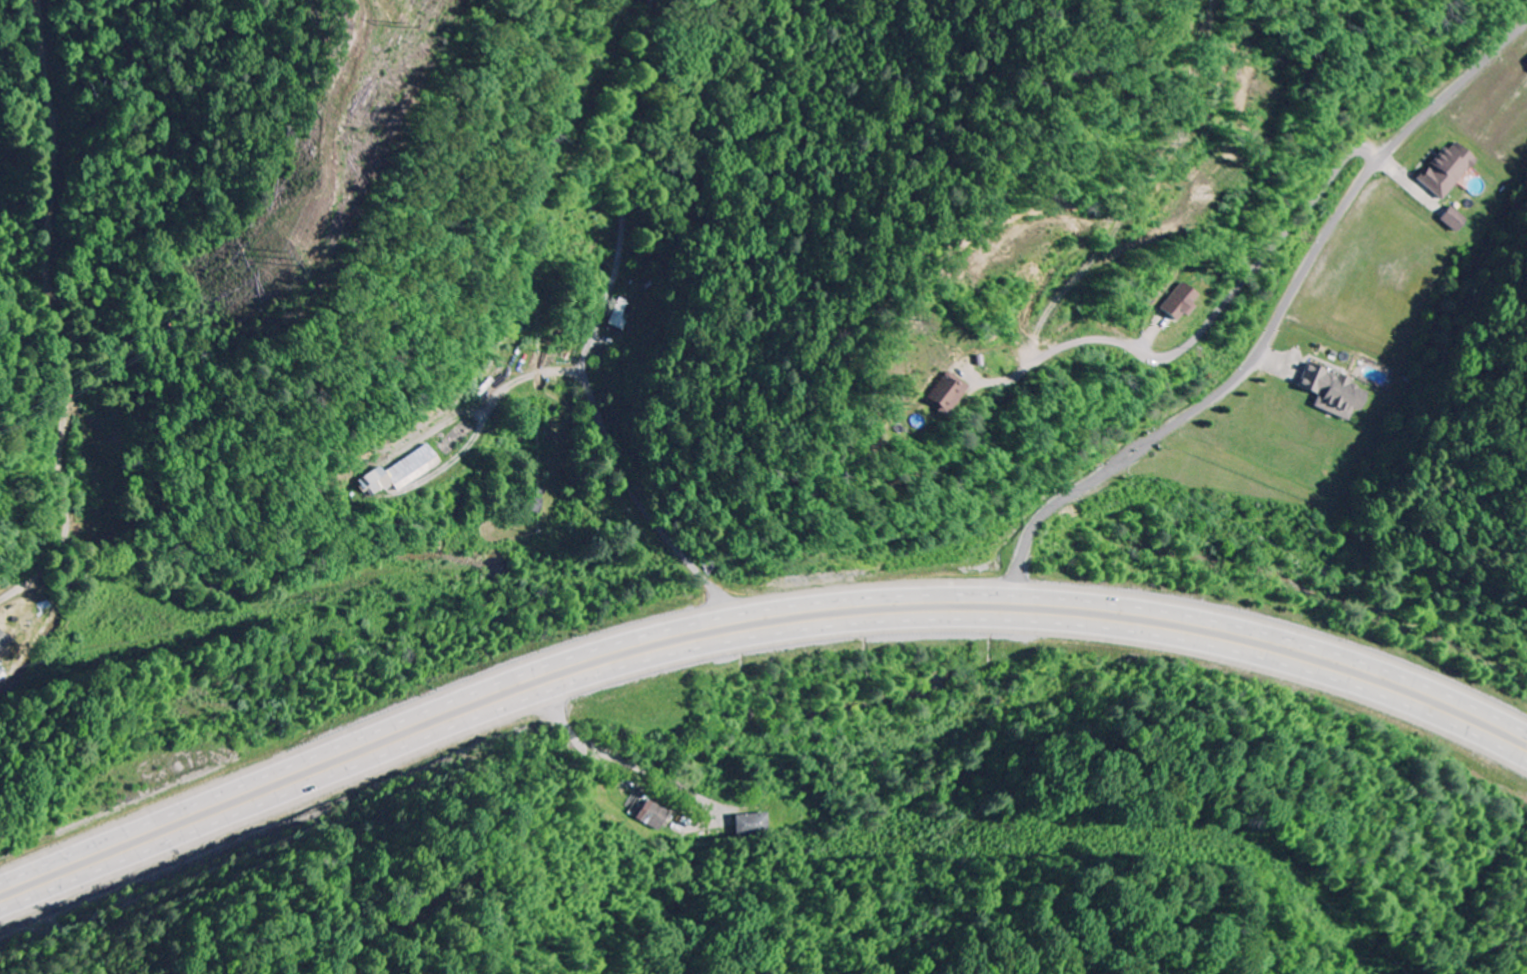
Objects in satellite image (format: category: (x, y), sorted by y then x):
building: (1447, 169)
building: (1453, 219)
building: (1180, 302)
building: (620, 314)
road: (594, 329)
building: (1332, 391)
building: (947, 392)
building: (401, 471)
road: (9, 595)
road: (751, 611)
road: (740, 633)
building: (3, 640)
road: (750, 651)
building: (652, 815)
building: (753, 824)
road: (1482, 953)

